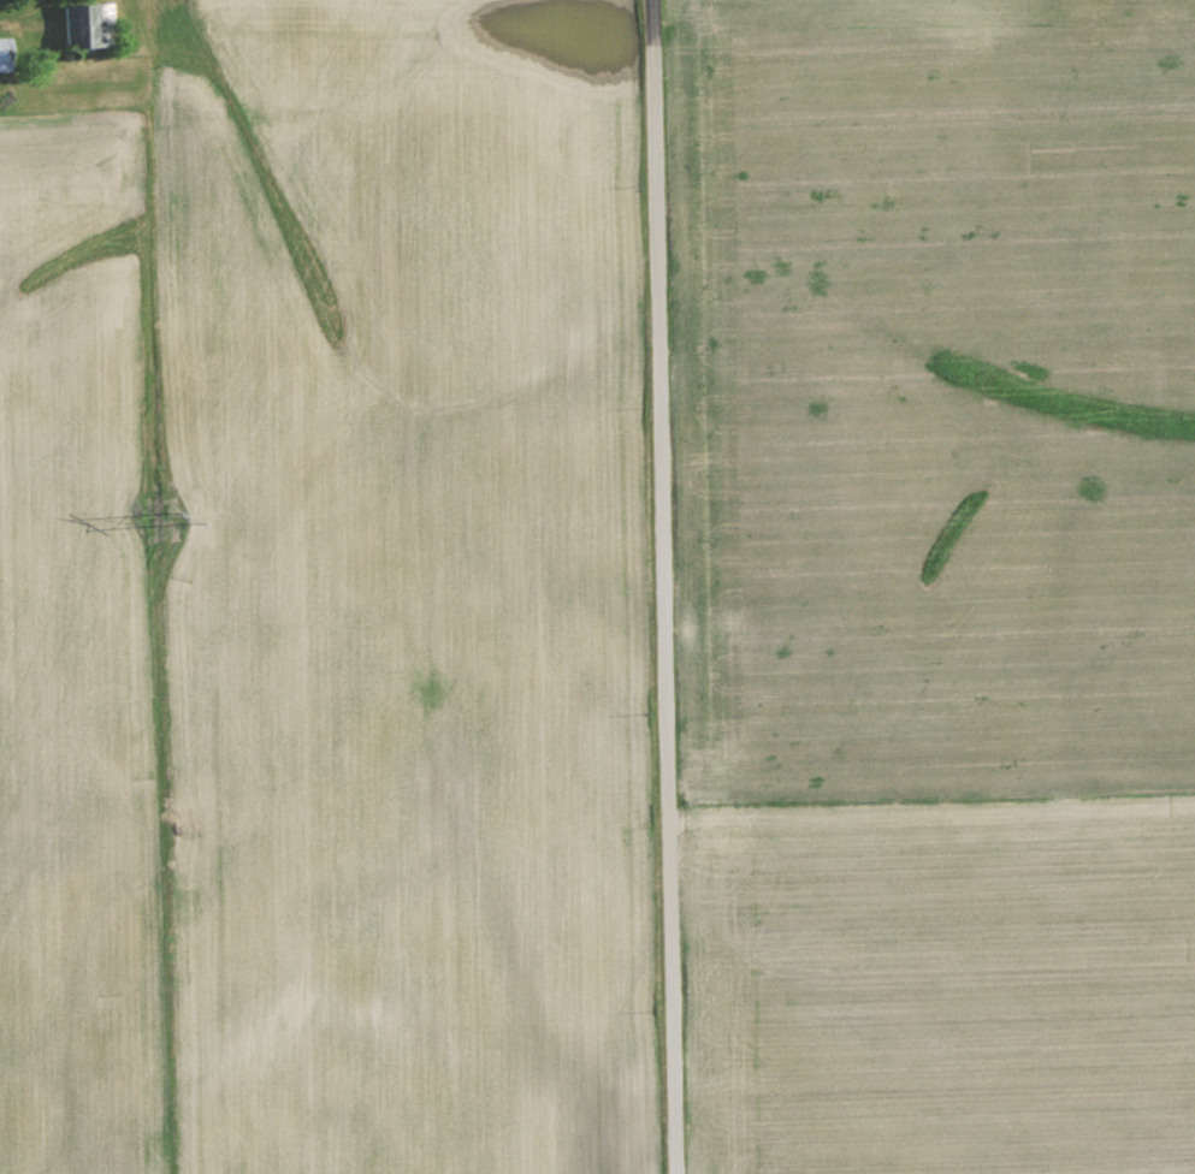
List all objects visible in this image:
building: (85, 24)
building: (4, 54)
power tower: (178, 520)
road: (664, 586)

